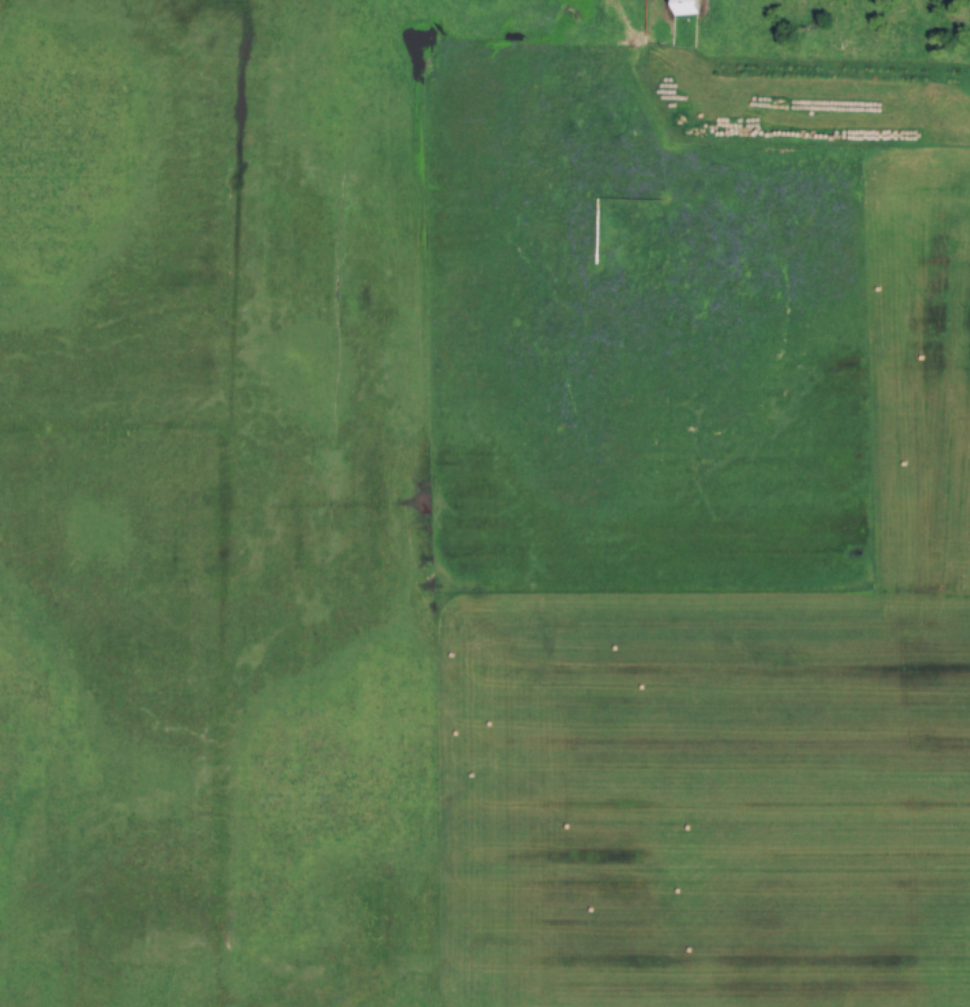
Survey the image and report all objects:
building: (681, 7)

